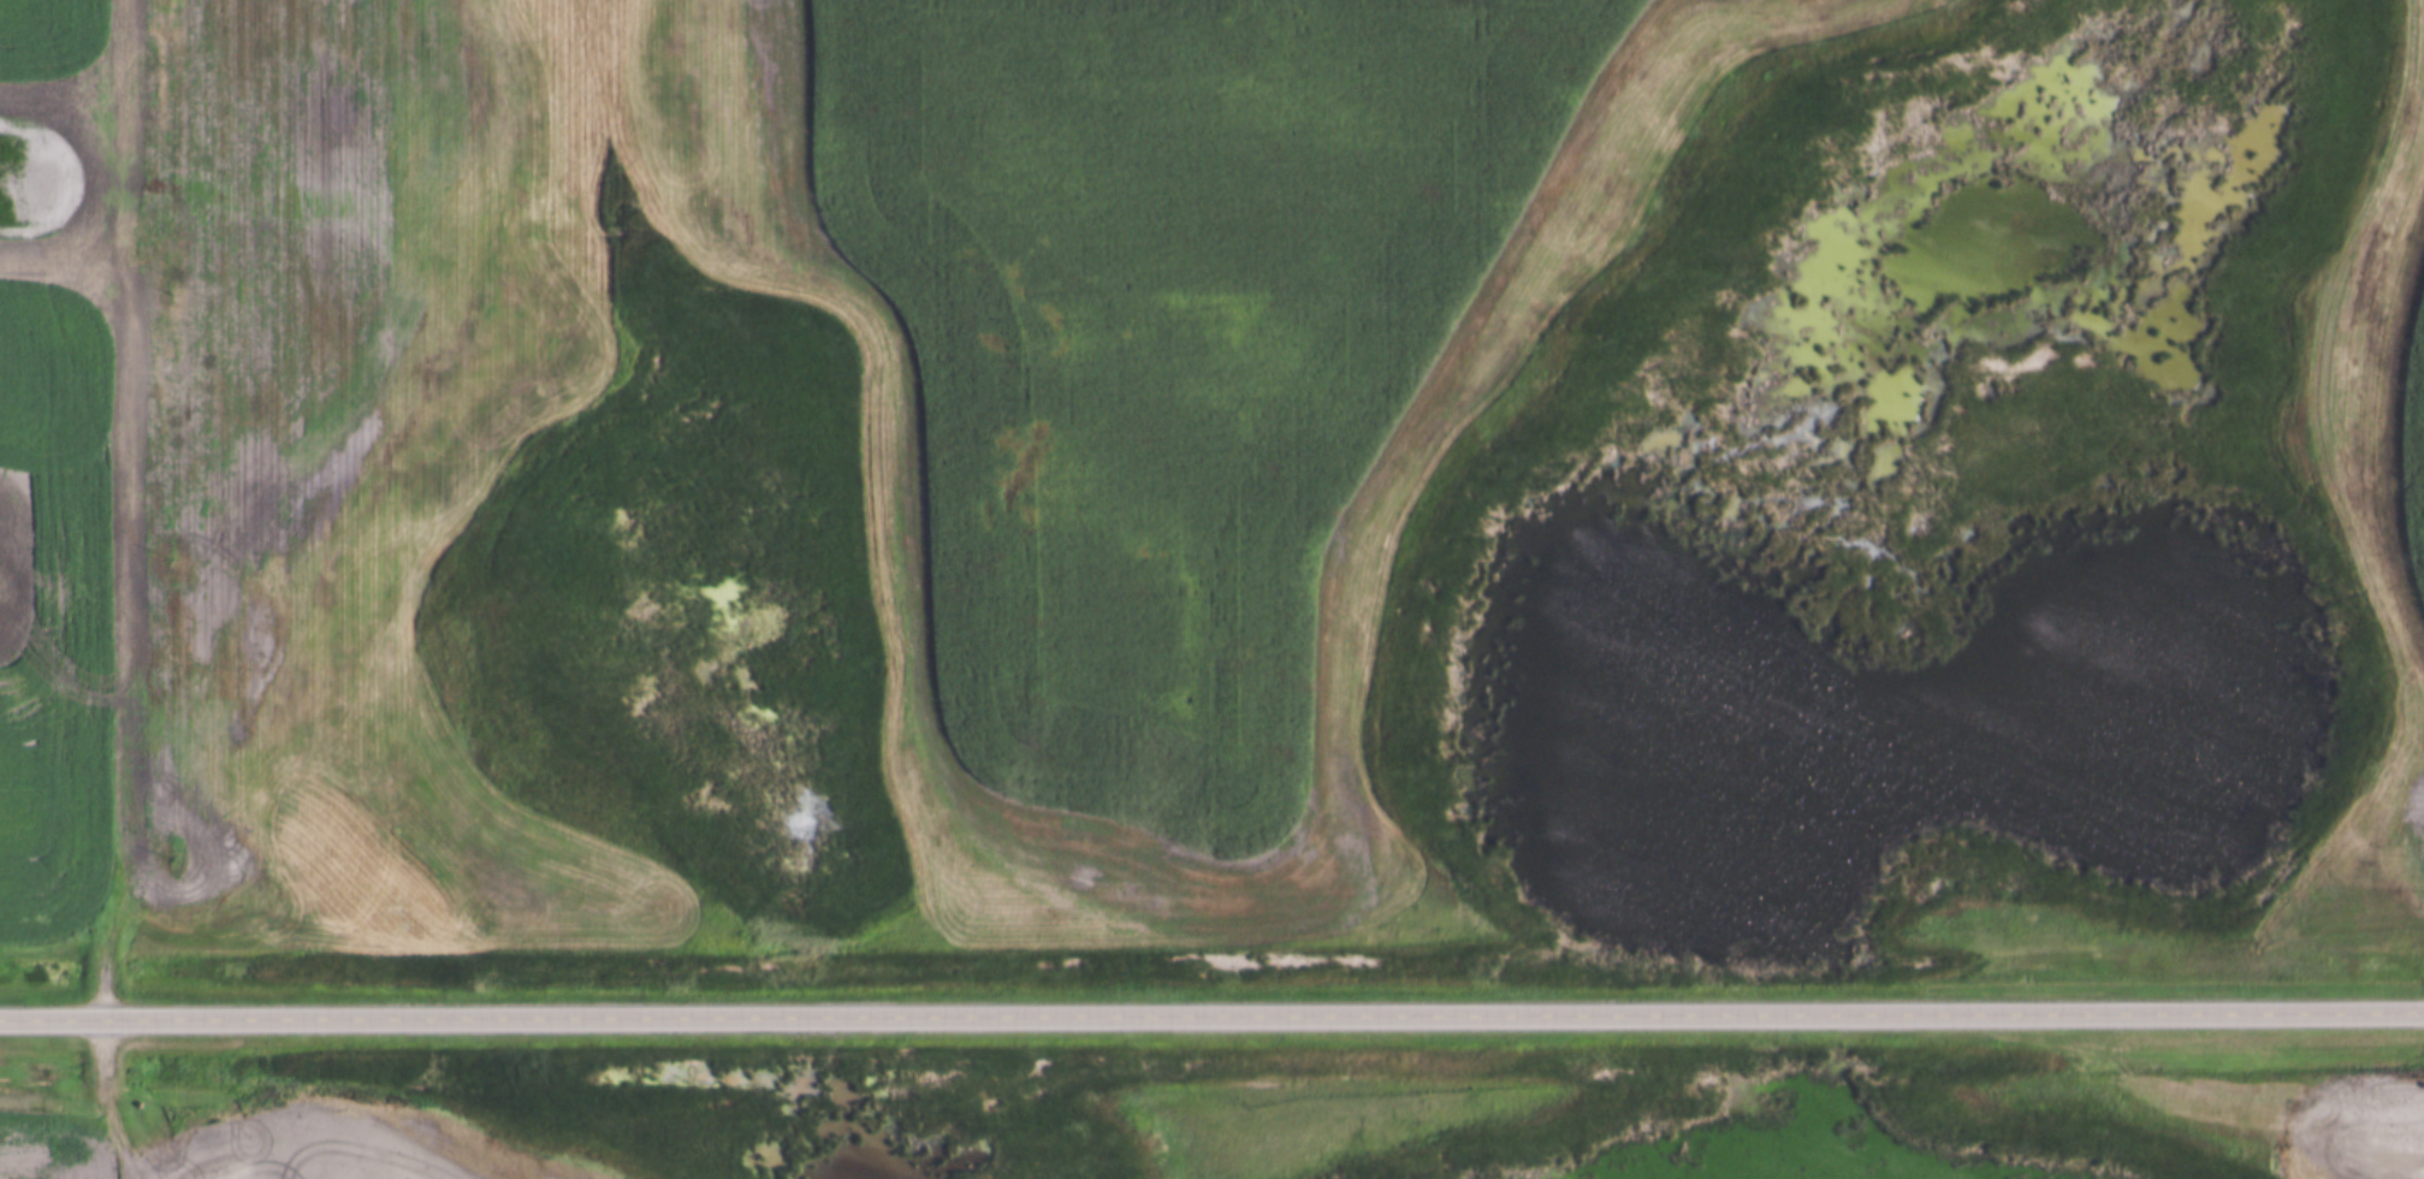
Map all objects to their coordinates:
road: (1211, 1013)

